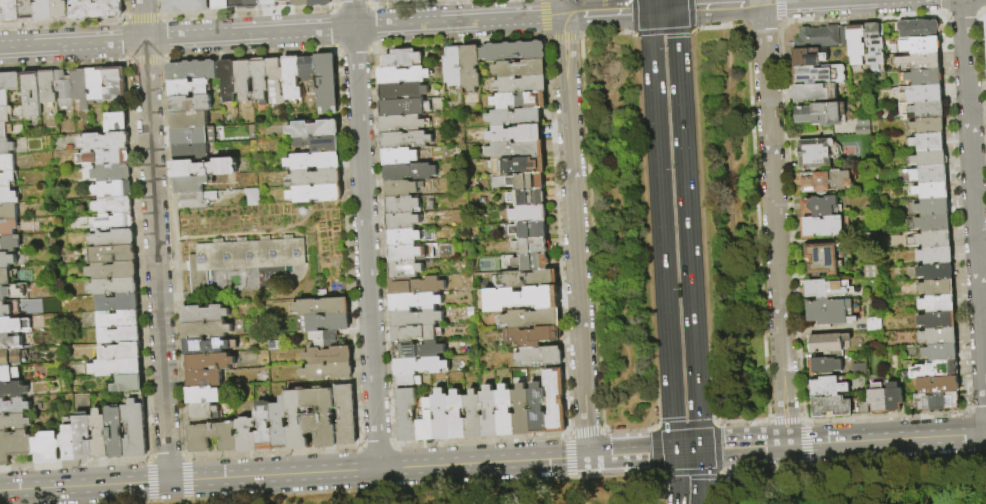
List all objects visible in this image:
building: (427, 0)
building: (392, 1)
building: (288, 2)
road: (760, 2)
road: (802, 2)
building: (302, 3)
building: (321, 3)
building: (221, 4)
building: (237, 4)
building: (253, 4)
building: (269, 4)
road: (648, 5)
road: (674, 5)
building: (186, 6)
road: (717, 7)
road: (561, 8)
building: (96, 9)
building: (44, 10)
building: (60, 10)
road: (662, 10)
traffic signals: (675, 10)
building: (11, 11)
building: (27, 11)
traffic signals: (649, 11)
building: (1, 12)
road: (605, 13)
road: (352, 14)
road: (689, 14)
road: (632, 17)
road: (457, 22)
building: (985, 25)
road: (706, 28)
building: (918, 28)
road: (690, 31)
road: (661, 32)
building: (843, 36)
building: (816, 37)
road: (176, 38)
building: (856, 45)
building: (922, 45)
building: (873, 46)
building: (515, 52)
building: (807, 57)
building: (402, 59)
building: (919, 61)
building: (454, 67)
building: (471, 68)
building: (308, 69)
building: (521, 69)
building: (192, 70)
building: (818, 74)
building: (404, 76)
building: (924, 77)
building: (244, 79)
building: (293, 79)
building: (229, 80)
building: (261, 81)
building: (10, 82)
building: (277, 82)
building: (116, 84)
building: (328, 84)
building: (96, 85)
building: (522, 85)
building: (48, 88)
building: (81, 88)
building: (189, 88)
building: (64, 89)
building: (403, 92)
building: (813, 92)
building: (919, 94)
building: (32, 96)
building: (5, 99)
building: (521, 101)
building: (191, 104)
building: (405, 108)
building: (921, 110)
building: (821, 114)
building: (6, 115)
building: (515, 117)
building: (189, 120)
building: (863, 121)
building: (116, 122)
building: (404, 124)
building: (927, 126)
building: (315, 129)
building: (861, 130)
building: (3, 132)
building: (516, 134)
building: (190, 136)
building: (406, 140)
building: (105, 142)
building: (927, 142)
building: (320, 144)
building: (6, 147)
building: (517, 150)
building: (191, 153)
building: (813, 153)
building: (401, 157)
building: (105, 158)
building: (929, 158)
building: (315, 162)
building: (7, 164)
building: (520, 166)
building: (204, 169)
building: (411, 172)
building: (112, 173)
building: (930, 174)
building: (315, 179)
building: (7, 180)
building: (825, 181)
building: (528, 182)
building: (191, 185)
road: (685, 187)
road: (699, 188)
building: (403, 189)
building: (114, 190)
building: (931, 190)
building: (317, 194)
building: (7, 196)
building: (253, 197)
building: (528, 198)
road: (659, 198)
building: (198, 200)
building: (113, 206)
building: (405, 206)
building: (818, 206)
building: (931, 206)
road: (974, 208)
road: (755, 212)
building: (9, 213)
building: (529, 214)
building: (404, 222)
building: (114, 223)
building: (932, 223)
road: (774, 224)
park: (673, 225)
road: (731, 225)
building: (821, 226)
building: (9, 228)
building: (530, 231)
park: (279, 232)
road: (574, 236)
building: (404, 238)
building: (114, 239)
building: (934, 239)
road: (155, 240)
building: (9, 245)
building: (531, 247)
road: (366, 248)
building: (412, 253)
building: (113, 255)
building: (934, 255)
building: (246, 257)
building: (823, 258)
building: (7, 261)
building: (532, 263)
building: (407, 270)
building: (114, 271)
building: (934, 271)
building: (6, 277)
building: (530, 279)
building: (417, 286)
building: (115, 287)
building: (936, 287)
building: (826, 289)
building: (5, 293)
building: (523, 299)
building: (416, 302)
building: (119, 303)
building: (936, 304)
building: (28, 305)
building: (323, 307)
building: (5, 310)
building: (828, 312)
building: (204, 314)
building: (417, 319)
building: (533, 319)
building: (120, 320)
building: (937, 320)
building: (326, 323)
building: (873, 324)
building: (5, 325)
building: (207, 330)
building: (416, 334)
building: (120, 336)
building: (937, 336)
building: (532, 337)
building: (325, 339)
building: (10, 342)
building: (828, 344)
building: (208, 347)
building: (419, 351)
building: (122, 352)
building: (940, 352)
building: (329, 356)
building: (540, 356)
building: (10, 358)
building: (210, 362)
building: (824, 366)
building: (422, 367)
building: (116, 368)
building: (933, 370)
building: (330, 373)
building: (9, 374)
building: (205, 379)
building: (409, 381)
building: (129, 384)
road: (710, 384)
building: (937, 385)
building: (827, 386)
building: (13, 390)
building: (204, 395)
building: (876, 398)
building: (893, 398)
building: (556, 401)
building: (935, 401)
building: (830, 406)
building: (14, 407)
road: (698, 407)
building: (859, 407)
building: (538, 410)
building: (522, 411)
building: (204, 412)
building: (506, 412)
building: (490, 413)
building: (319, 415)
building: (346, 416)
building: (407, 416)
building: (441, 416)
building: (457, 416)
building: (474, 416)
traffic signals: (672, 417)
road: (672, 419)
road: (783, 420)
building: (296, 421)
building: (15, 422)
road: (740, 422)
building: (427, 423)
building: (280, 424)
road: (684, 425)
building: (265, 426)
building: (135, 429)
building: (116, 432)
building: (100, 435)
building: (247, 435)
road: (714, 436)
building: (84, 437)
building: (211, 437)
road: (886, 439)
building: (69, 441)
building: (15, 446)
road: (751, 447)
building: (48, 448)
road: (708, 449)
traffic signals: (722, 449)
road: (652, 451)
road: (687, 451)
road: (631, 453)
traffic signals: (646, 453)
road: (716, 461)
road: (294, 473)
road: (686, 473)
road: (701, 476)
road: (677, 478)
traffic signals: (701, 478)
park: (705, 487)
road: (717, 489)
road: (645, 492)

